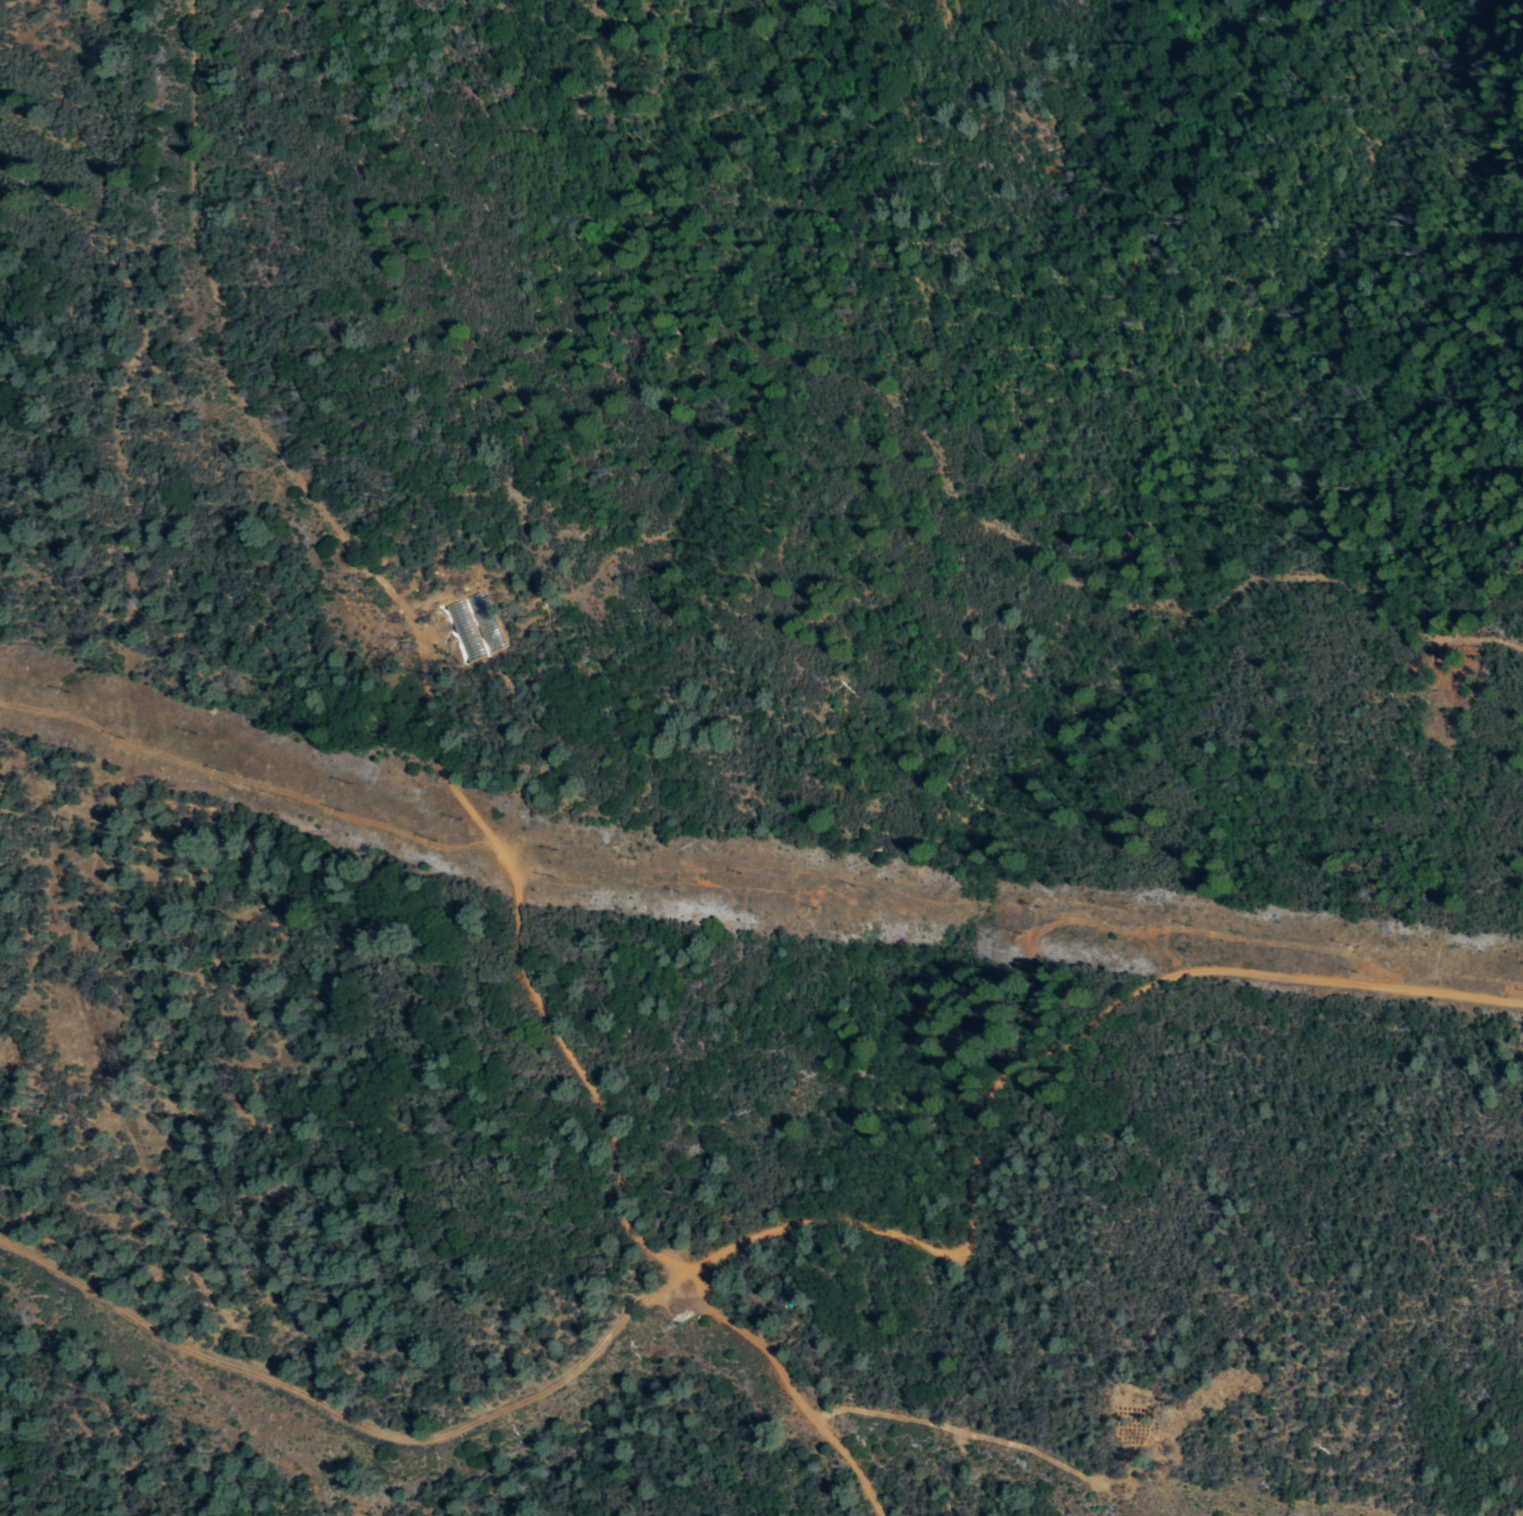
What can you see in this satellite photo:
road: (790, 1229)

